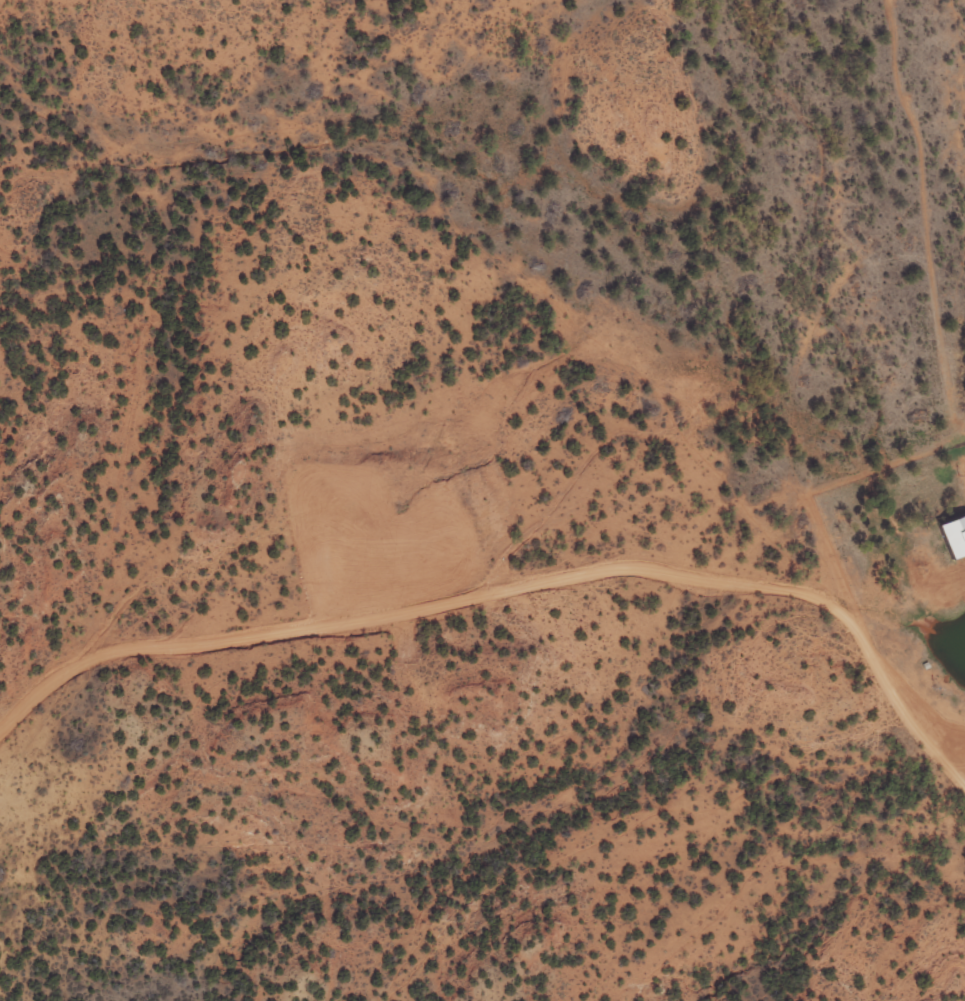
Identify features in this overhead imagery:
building: (952, 535)

